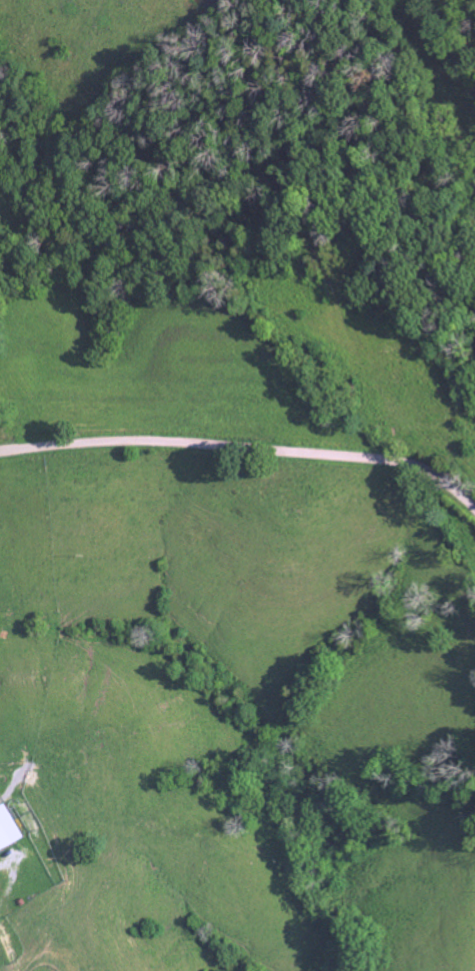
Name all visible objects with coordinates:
road: (243, 448)
building: (7, 828)

